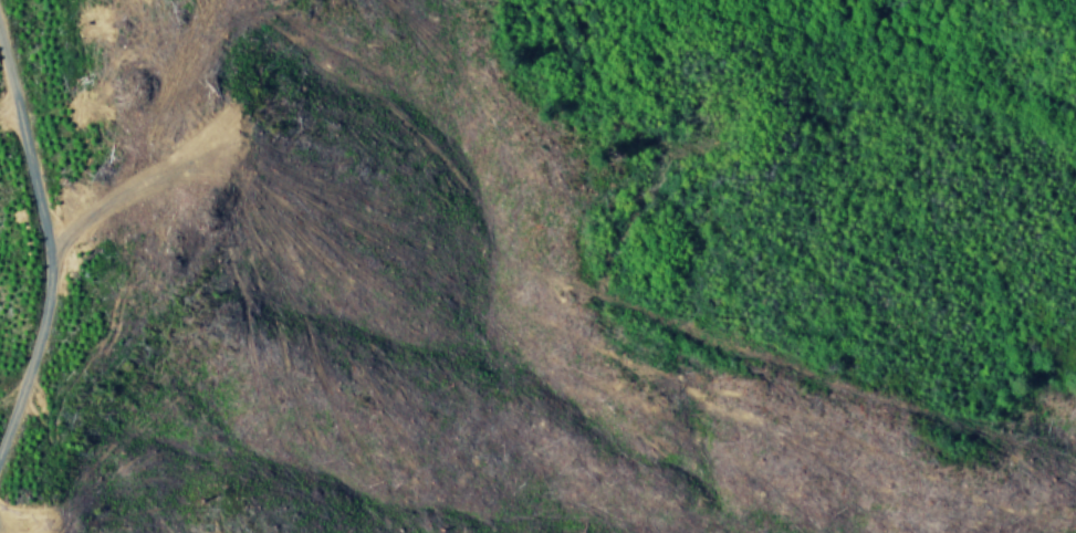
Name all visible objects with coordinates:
road: (49, 237)

